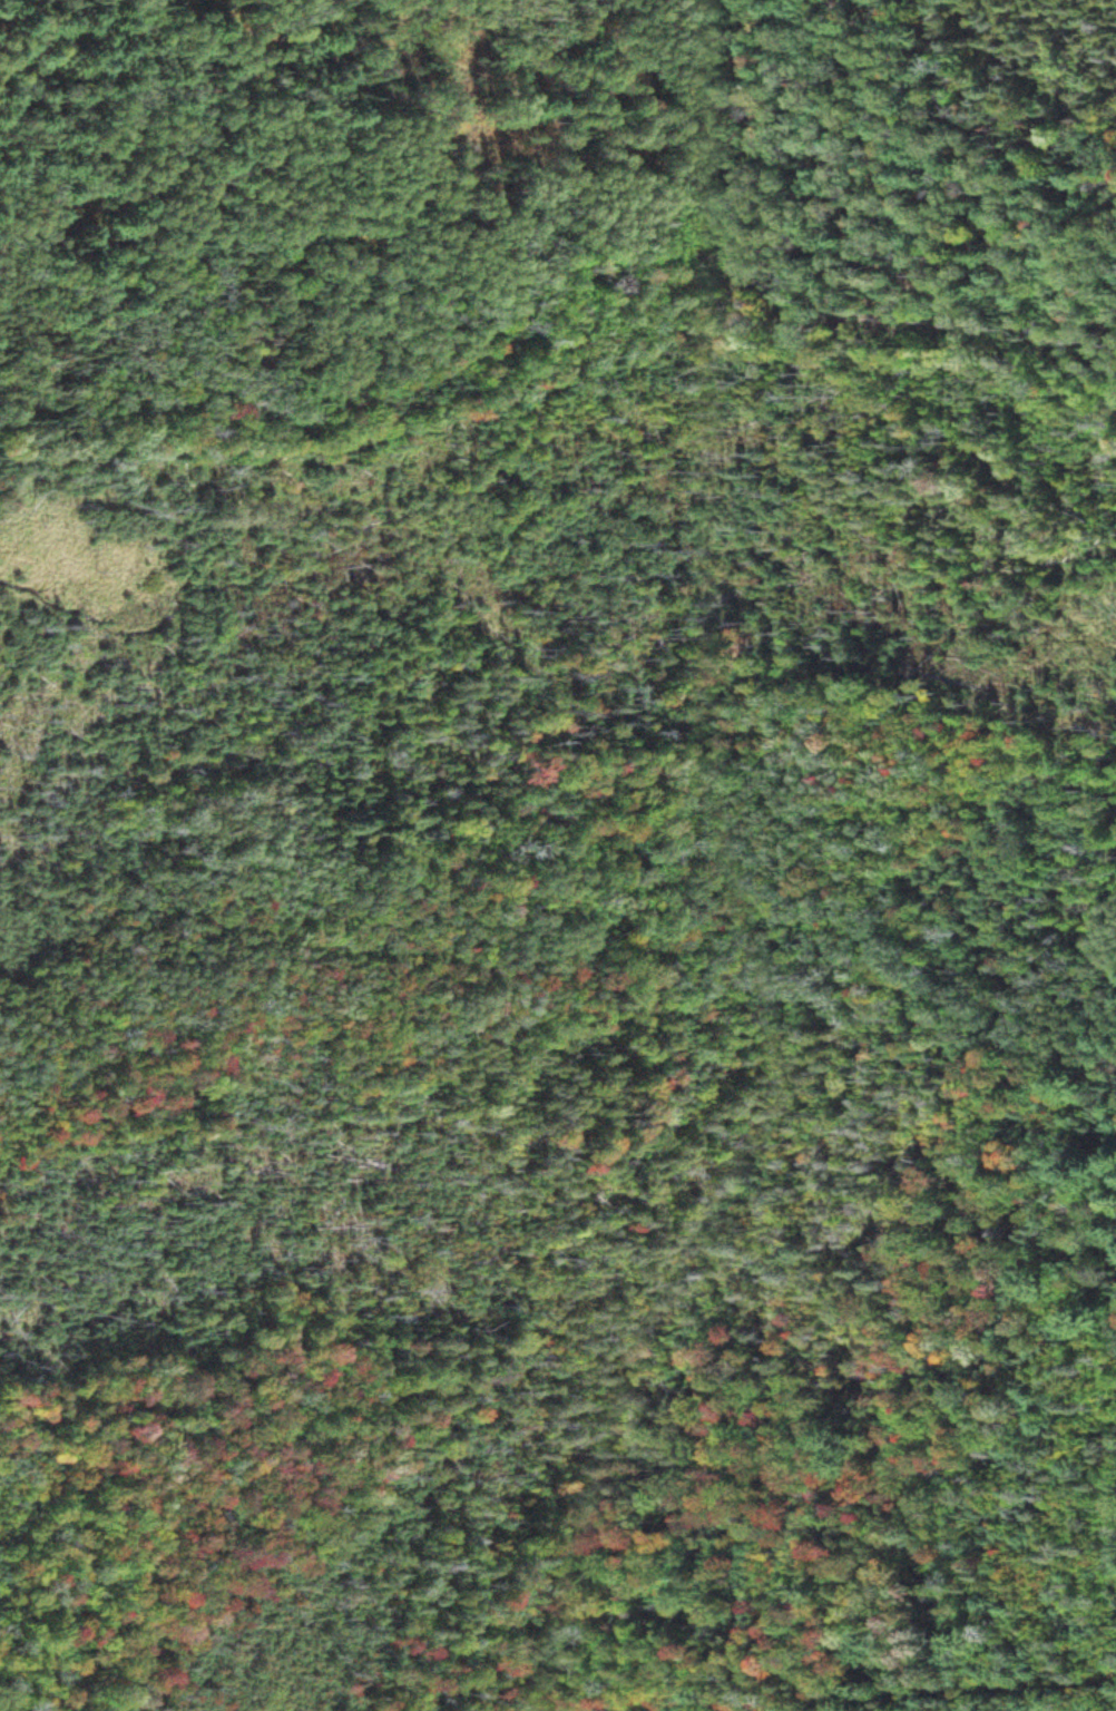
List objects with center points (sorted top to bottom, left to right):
road: (272, 10)
park: (498, 932)

